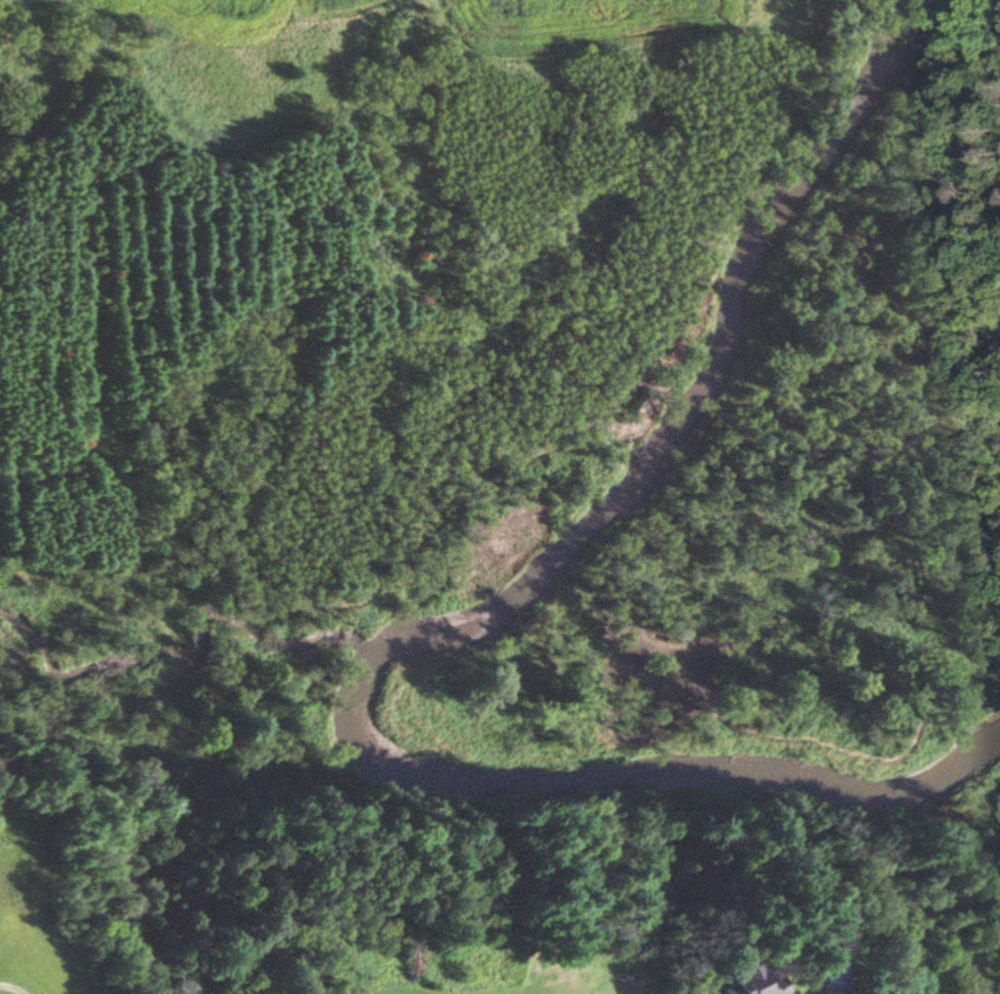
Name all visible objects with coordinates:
river: (439, 621)
building: (829, 972)
building: (748, 983)
park: (24, 987)

